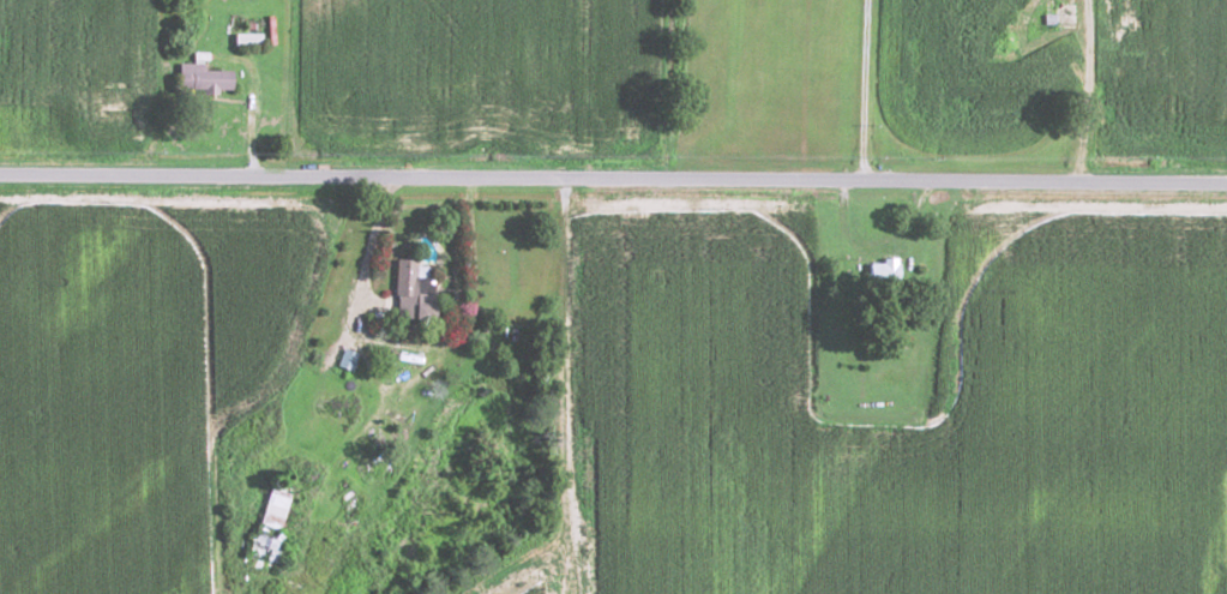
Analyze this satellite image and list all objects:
building: (207, 77)
road: (870, 90)
road: (1087, 90)
road: (1169, 90)
road: (252, 108)
road: (613, 178)
building: (888, 268)
building: (415, 292)
building: (349, 358)
road: (567, 385)
building: (276, 510)

